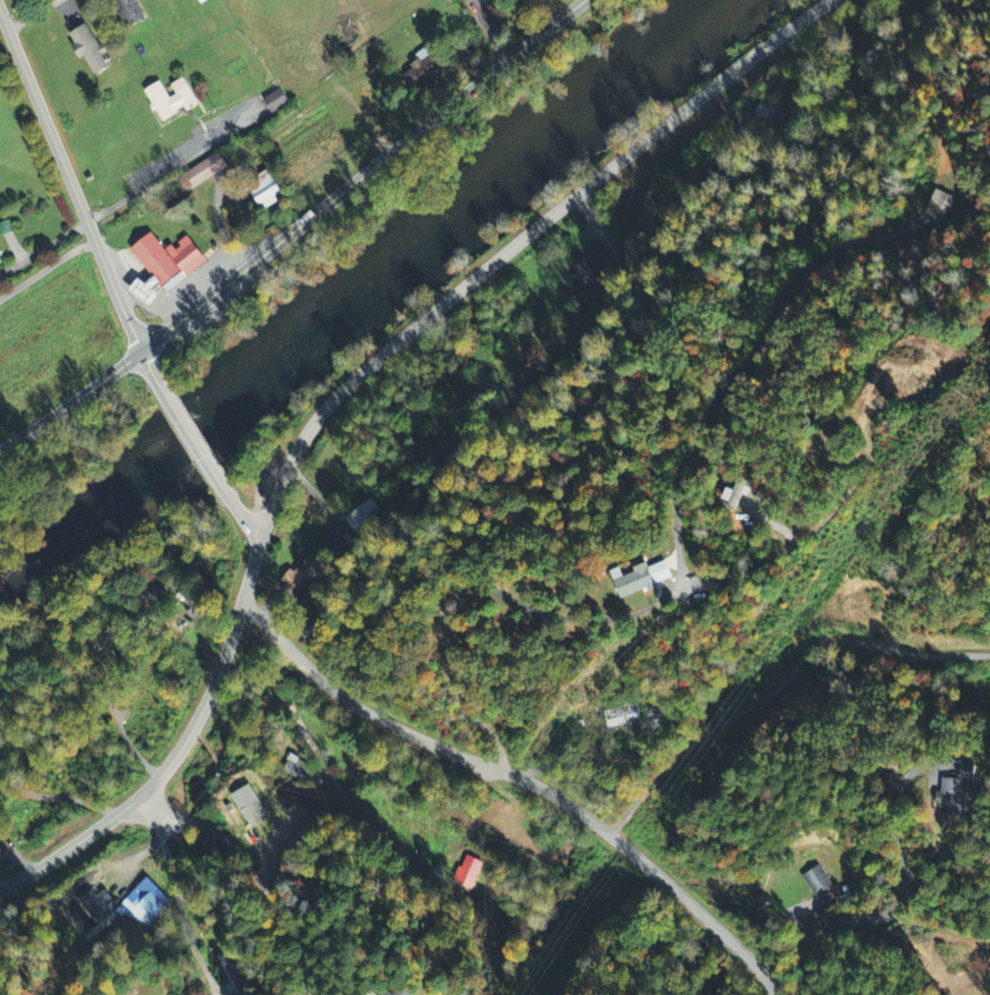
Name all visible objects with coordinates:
building: (129, 12)
road: (31, 13)
building: (91, 51)
building: (424, 70)
building: (171, 100)
building: (277, 102)
building: (206, 171)
road: (365, 176)
road: (150, 180)
road: (71, 181)
building: (267, 191)
building: (939, 207)
river: (439, 236)
road: (515, 245)
building: (166, 258)
road: (47, 266)
building: (591, 272)
building: (143, 289)
traffic signals: (143, 353)
road: (148, 366)
power tower: (961, 388)
road: (71, 402)
road: (191, 436)
building: (733, 495)
road: (243, 518)
river: (78, 531)
road: (250, 573)
building: (300, 578)
building: (641, 580)
road: (780, 685)
building: (622, 718)
building: (298, 771)
building: (969, 771)
road: (502, 773)
road: (158, 777)
building: (951, 798)
building: (0, 855)
building: (468, 873)
building: (817, 881)
road: (177, 896)
building: (144, 906)
building: (231, 976)
road: (765, 977)
building: (402, 992)
building: (389, 993)

